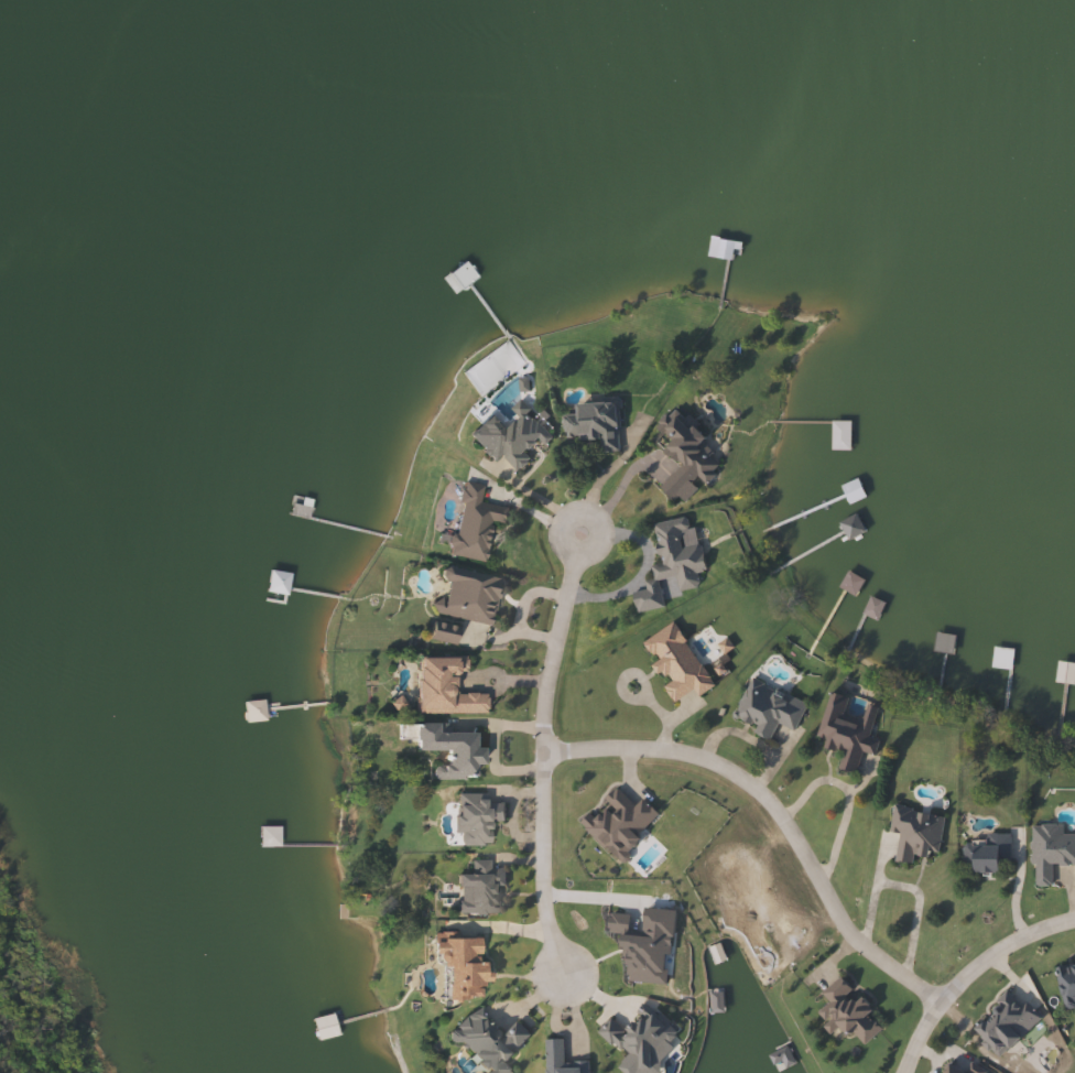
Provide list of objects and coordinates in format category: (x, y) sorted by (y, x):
building: (1023, 191)
building: (1072, 300)
building: (596, 424)
building: (839, 435)
building: (511, 438)
building: (687, 455)
road: (600, 477)
road: (623, 488)
building: (851, 497)
building: (476, 523)
building: (675, 562)
building: (849, 584)
building: (468, 595)
building: (872, 608)
building: (445, 633)
building: (943, 643)
building: (445, 687)
building: (770, 708)
building: (452, 751)
road: (545, 751)
road: (847, 795)
road: (771, 811)
building: (477, 819)
building: (619, 824)
building: (910, 831)
building: (269, 836)
building: (1047, 848)
building: (980, 853)
road: (1016, 885)
building: (482, 888)
road: (871, 891)
road: (914, 913)
building: (464, 967)
road: (965, 973)
building: (1064, 980)
building: (843, 1011)
building: (998, 1022)
building: (489, 1041)
building: (561, 1059)
building: (960, 1065)

